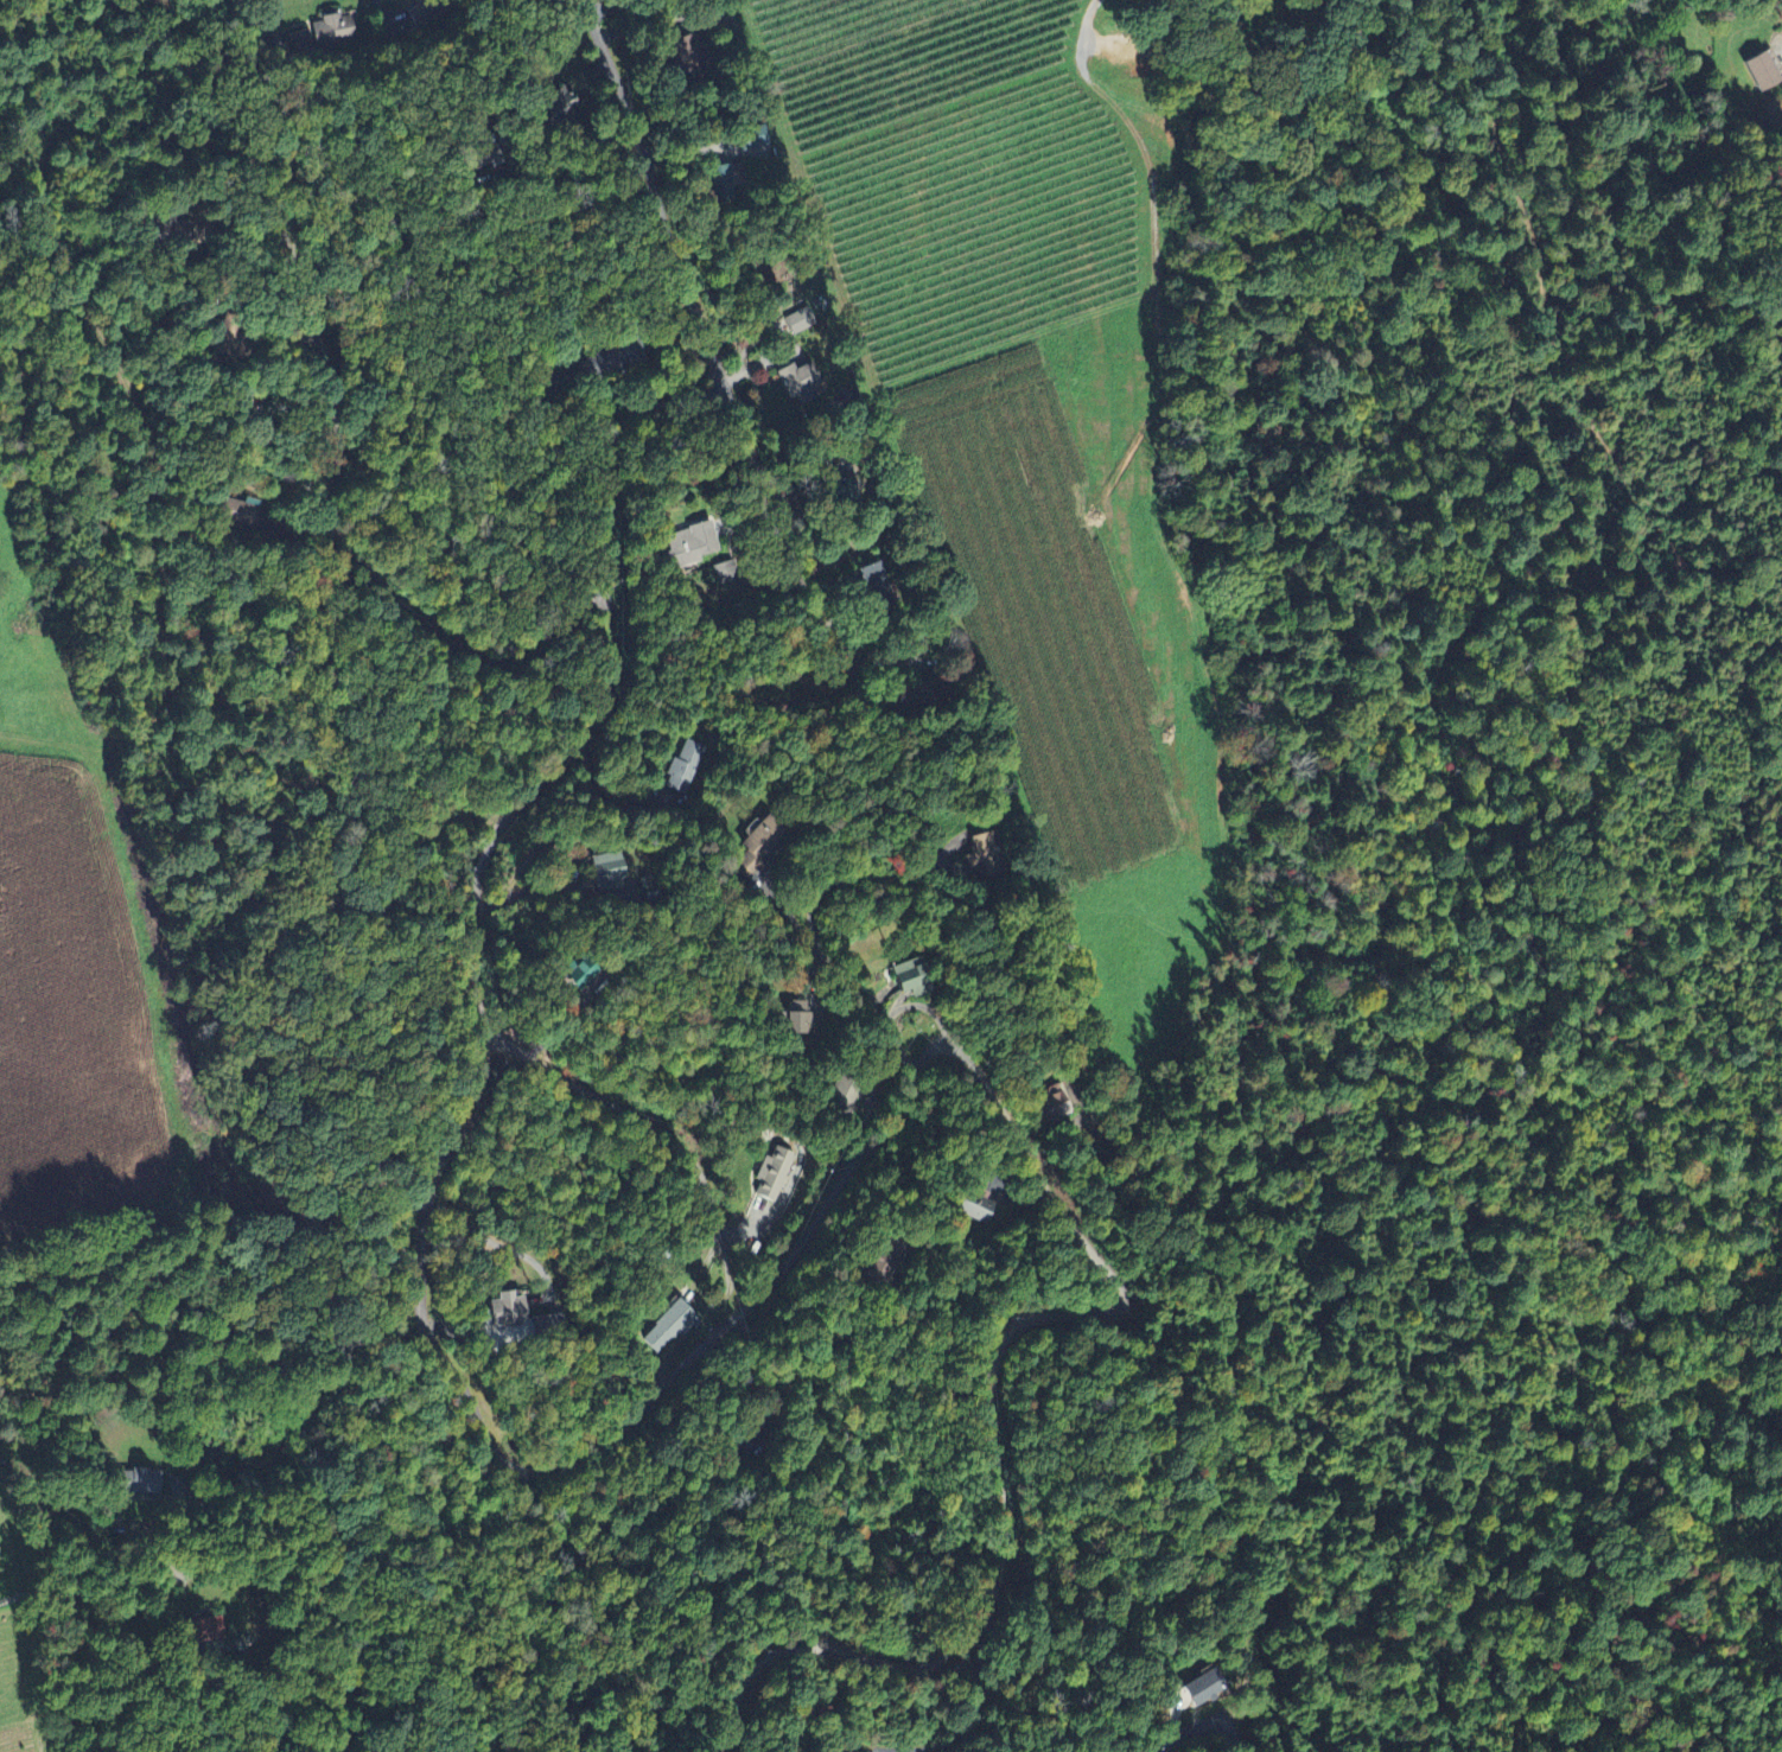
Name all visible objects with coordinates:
building: (335, 31)
road: (1781, 58)
building: (1757, 69)
building: (747, 138)
building: (718, 177)
road: (579, 308)
road: (700, 313)
building: (795, 381)
road: (339, 427)
building: (689, 543)
road: (596, 789)
building: (609, 871)
road: (477, 899)
road: (1023, 934)
road: (827, 954)
building: (915, 979)
road: (934, 1047)
building: (776, 1174)
building: (980, 1209)
building: (891, 1261)
building: (507, 1312)
building: (669, 1326)
road: (777, 1391)
road: (108, 1557)
road: (1169, 1746)

